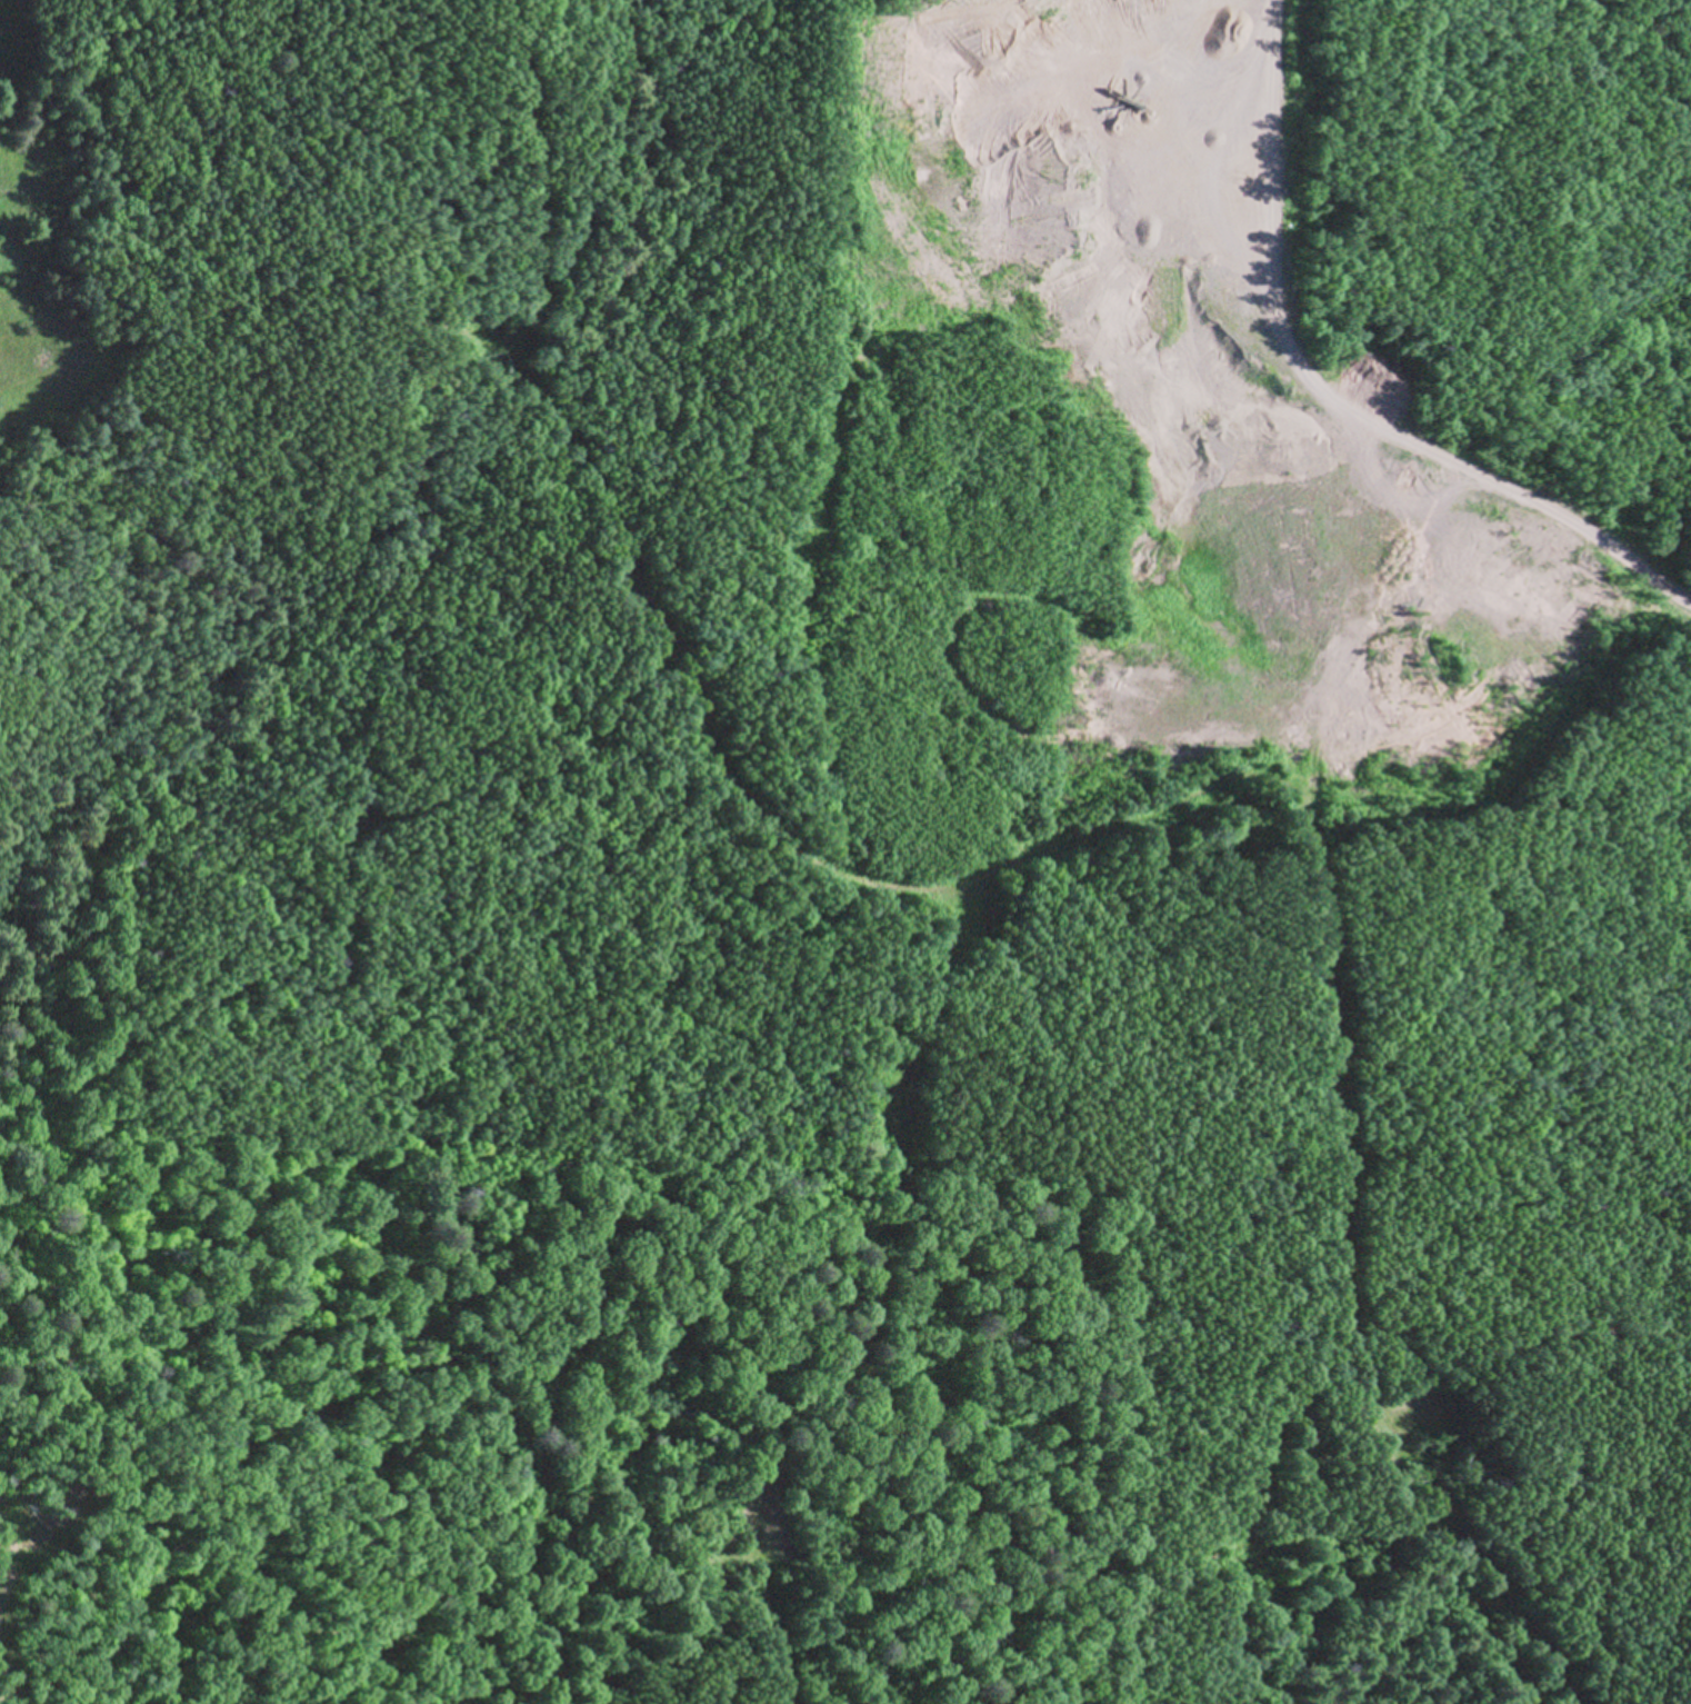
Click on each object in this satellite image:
road: (1275, 212)
quarry: (1148, 480)
road: (1521, 492)
quarry: (950, 705)
road: (1337, 1086)

